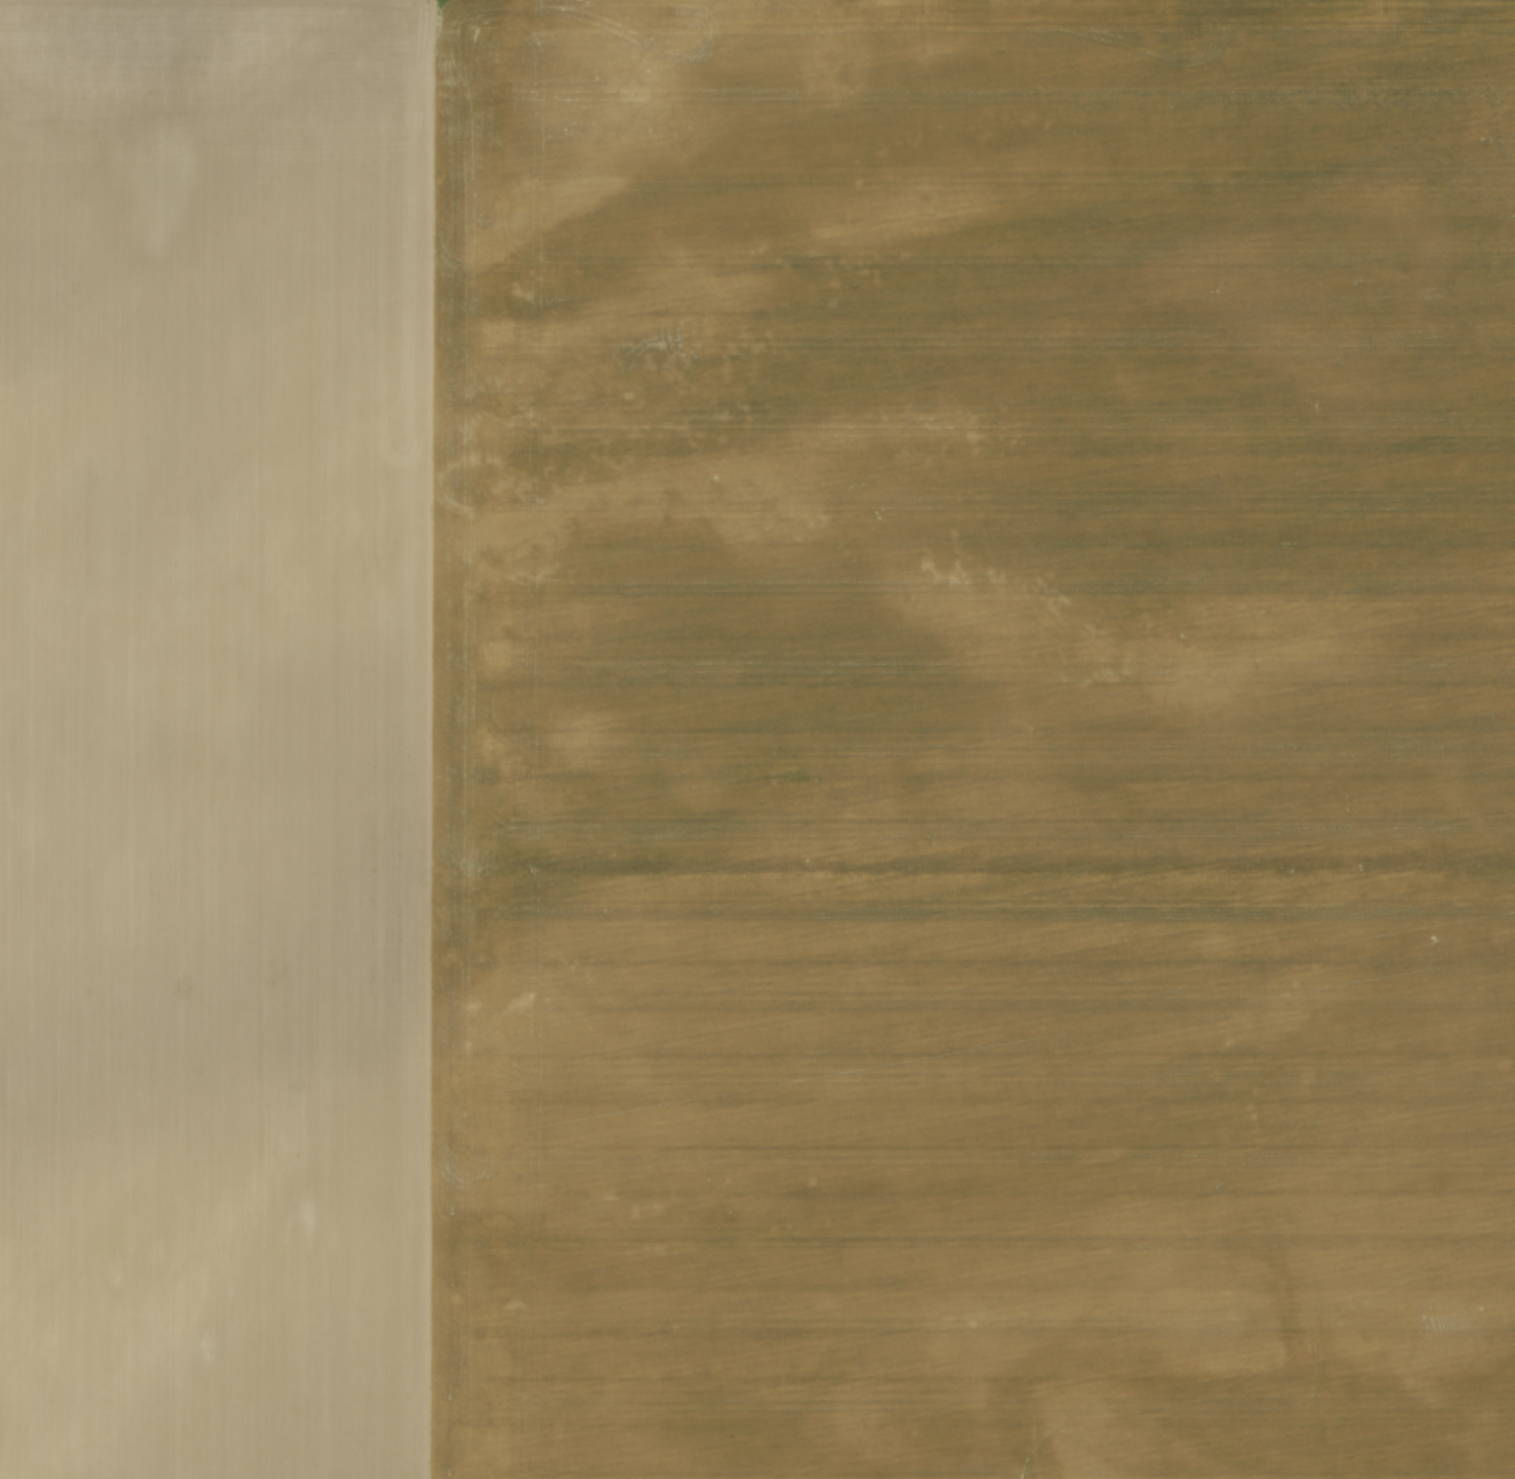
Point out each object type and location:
crop: (765, 748)

